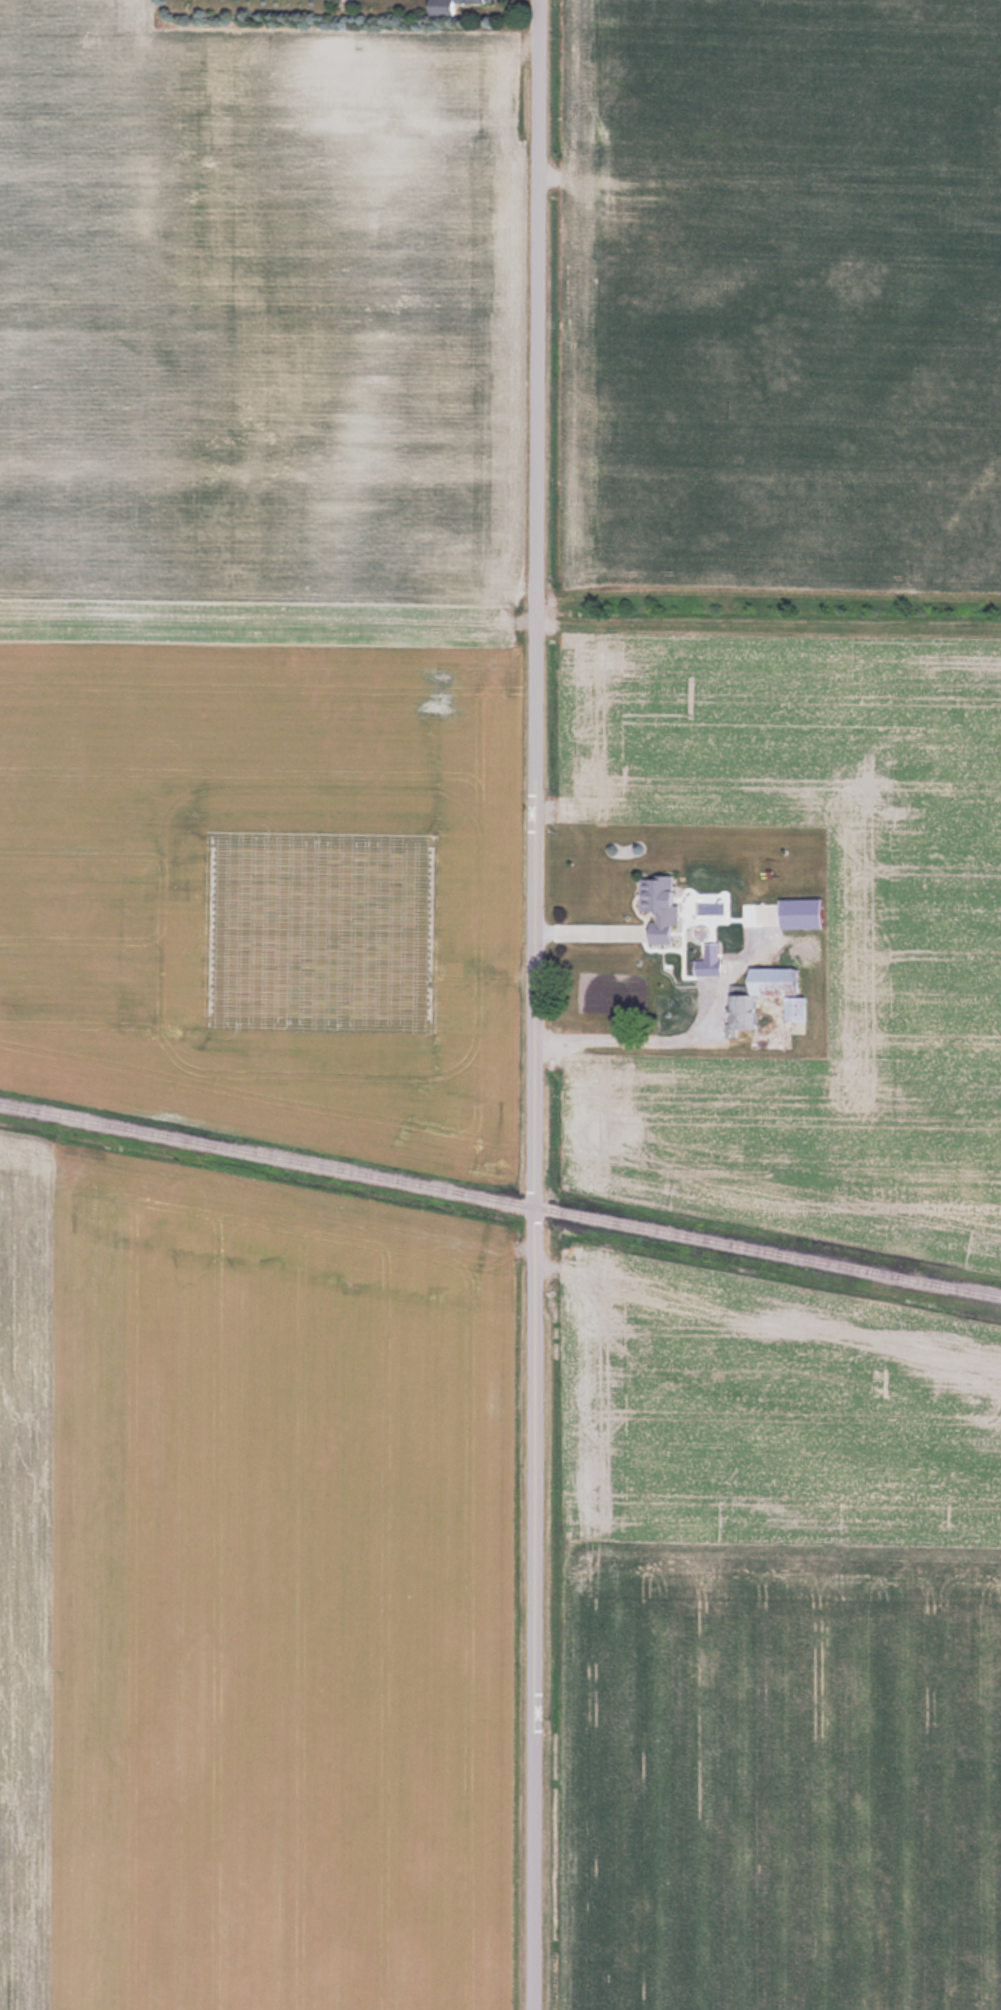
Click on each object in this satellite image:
building: (452, 6)
building: (664, 907)
building: (806, 913)
building: (769, 995)
road: (536, 1004)
road: (684, 1039)
railway: (500, 1201)

